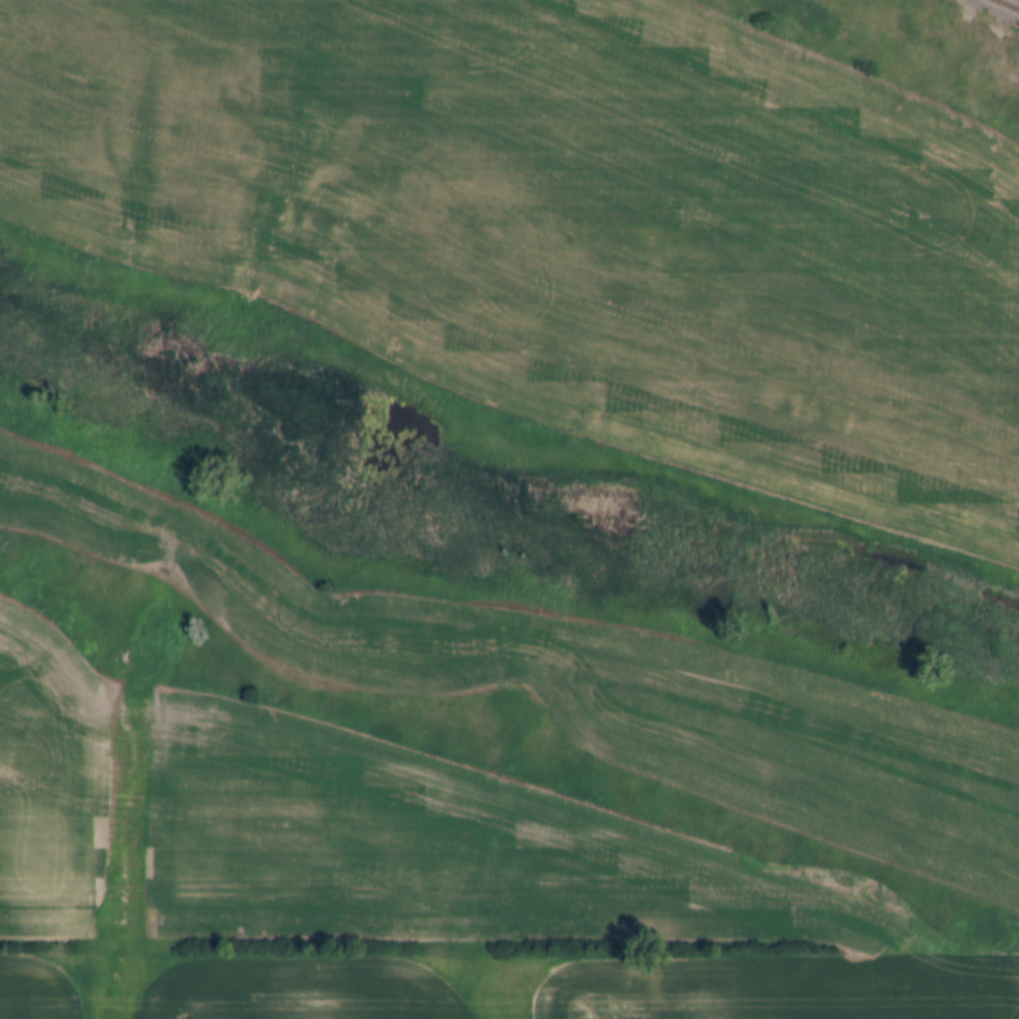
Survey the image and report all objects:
railway: (1005, 5)

